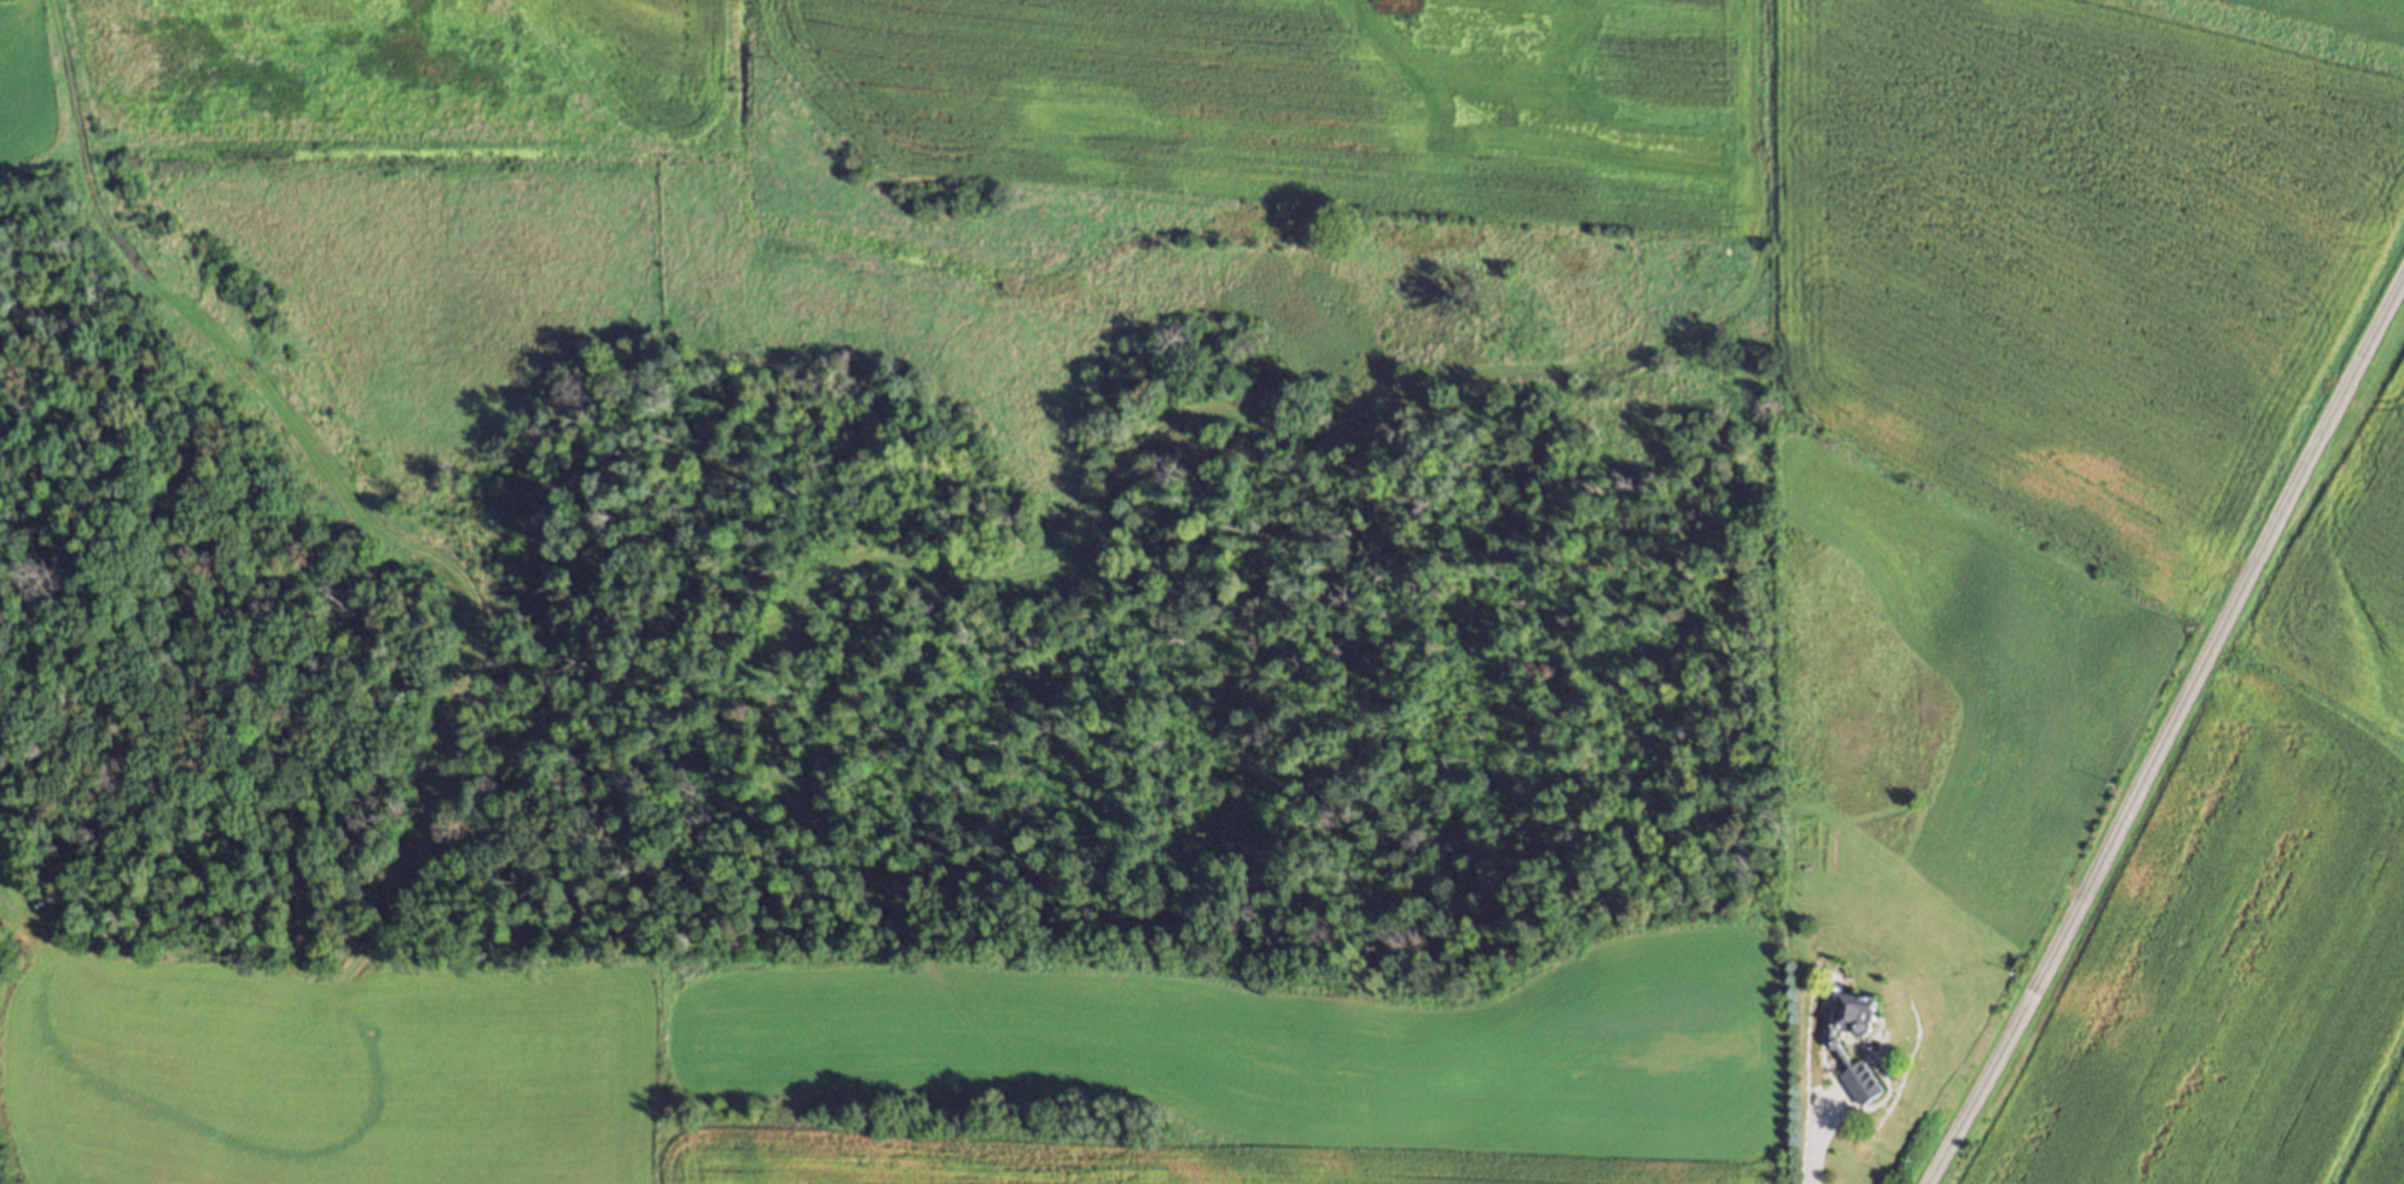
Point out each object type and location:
road: (2166, 731)
building: (1834, 1045)
road: (1821, 1143)

